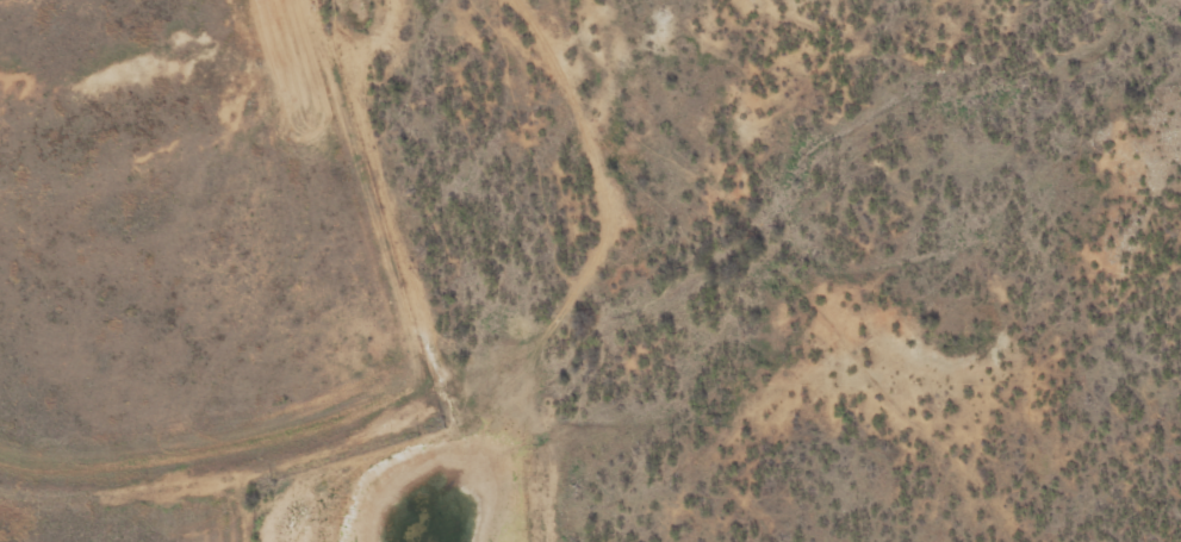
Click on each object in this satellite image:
road: (414, 407)

